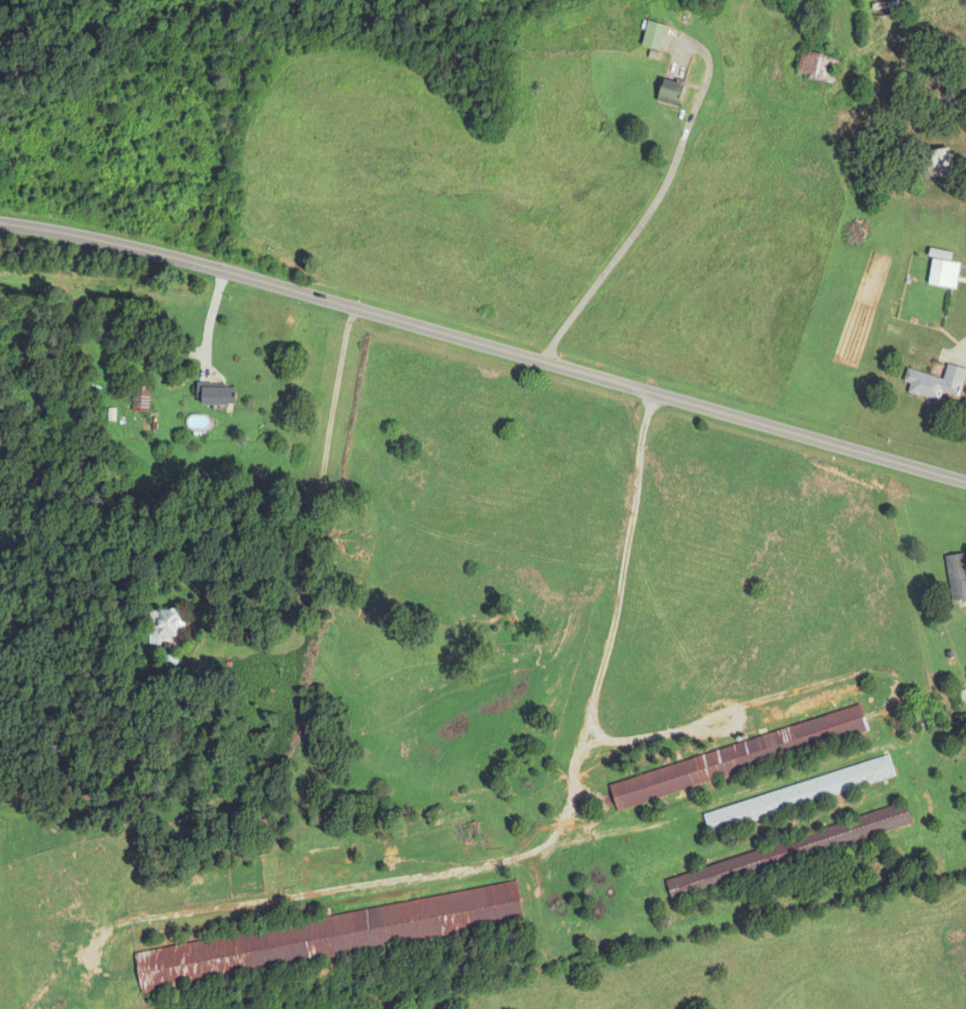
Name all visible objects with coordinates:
building: (653, 36)
building: (817, 68)
building: (669, 94)
building: (934, 164)
road: (648, 211)
building: (939, 274)
road: (210, 318)
road: (484, 347)
building: (935, 384)
building: (216, 395)
building: (139, 399)
road: (315, 523)
building: (957, 576)
building: (164, 625)
building: (738, 759)
building: (798, 796)
road: (552, 838)
building: (787, 853)
building: (328, 937)

